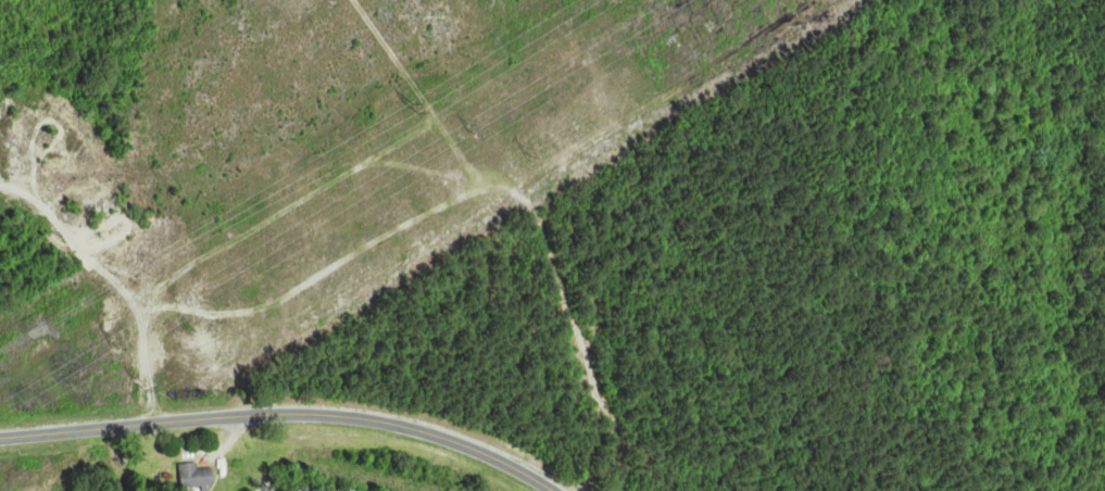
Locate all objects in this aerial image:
power tower: (416, 109)
power tower: (474, 129)
power tower: (529, 152)
power tower: (118, 343)
power tower: (142, 391)
road: (281, 414)
building: (197, 478)

